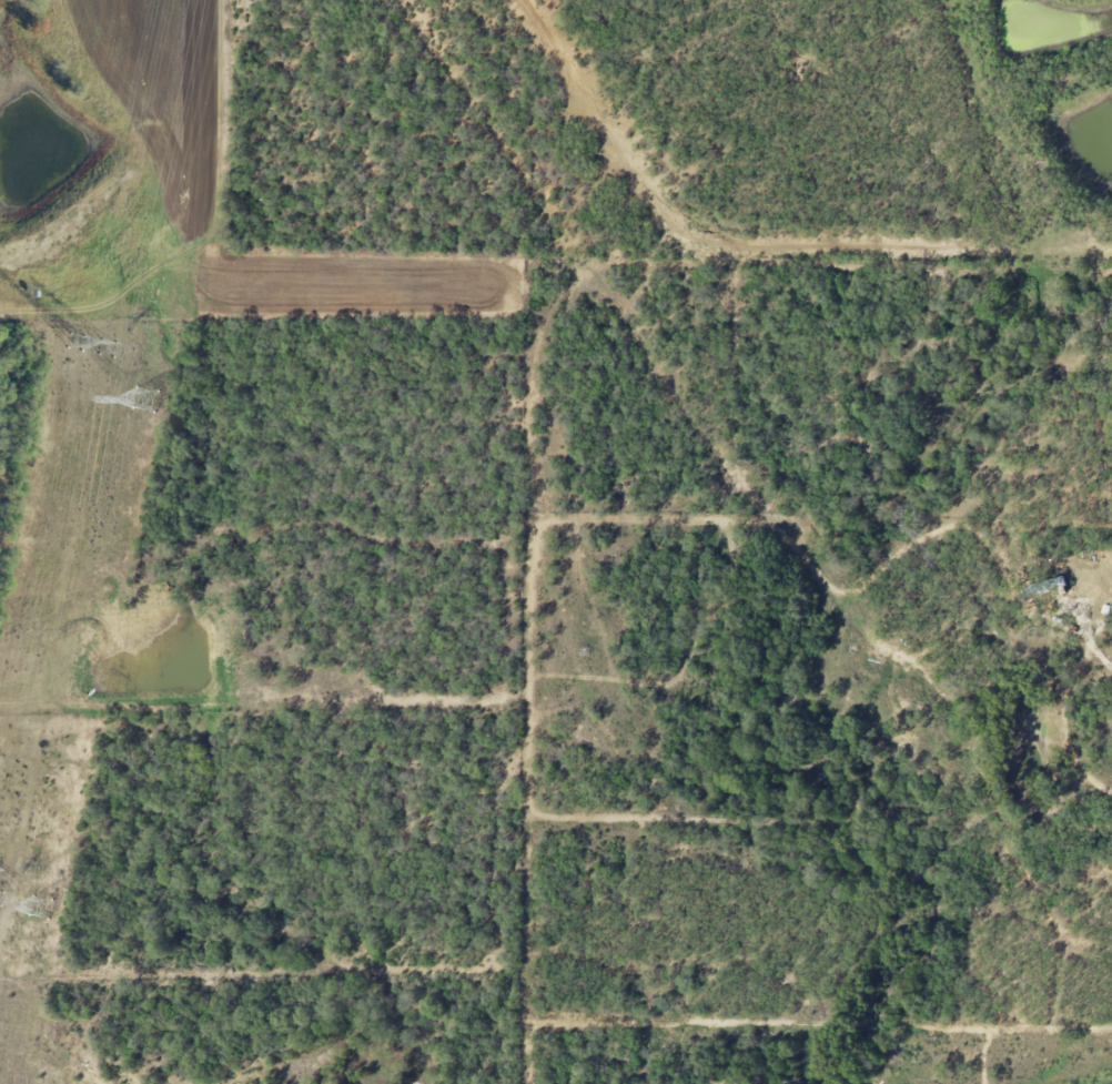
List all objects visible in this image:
power tower: (74, 343)
power tower: (109, 348)
power tower: (148, 401)
road: (1098, 654)
power tower: (42, 908)

